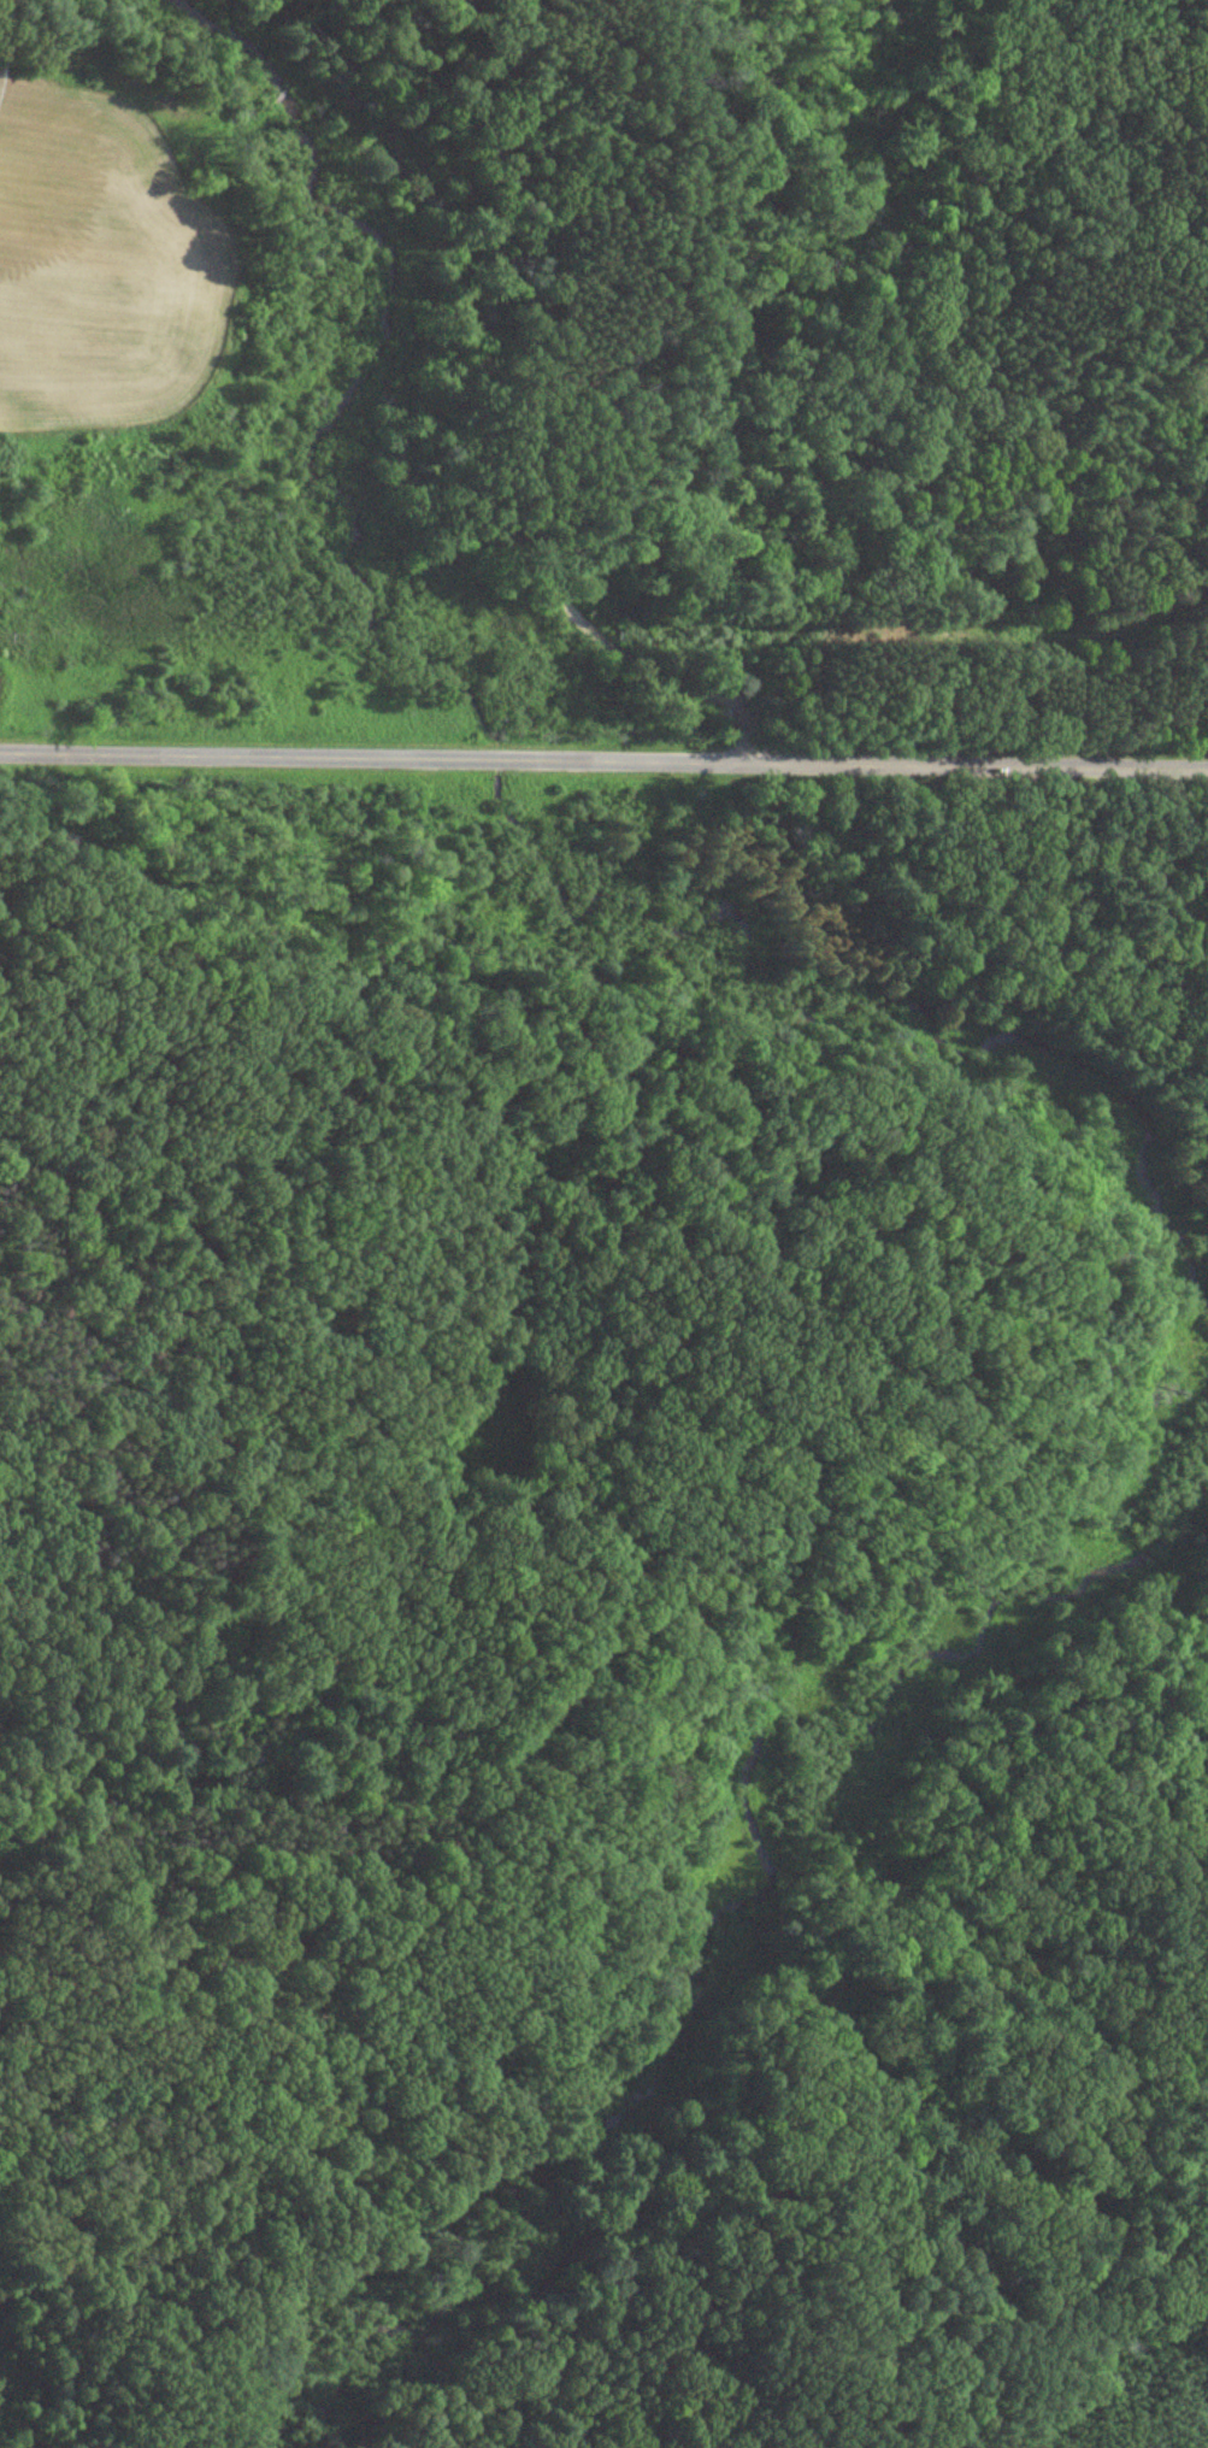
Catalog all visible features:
crop: (101, 263)
road: (484, 441)
crop: (0, 678)
road: (603, 758)
road: (1071, 2325)

